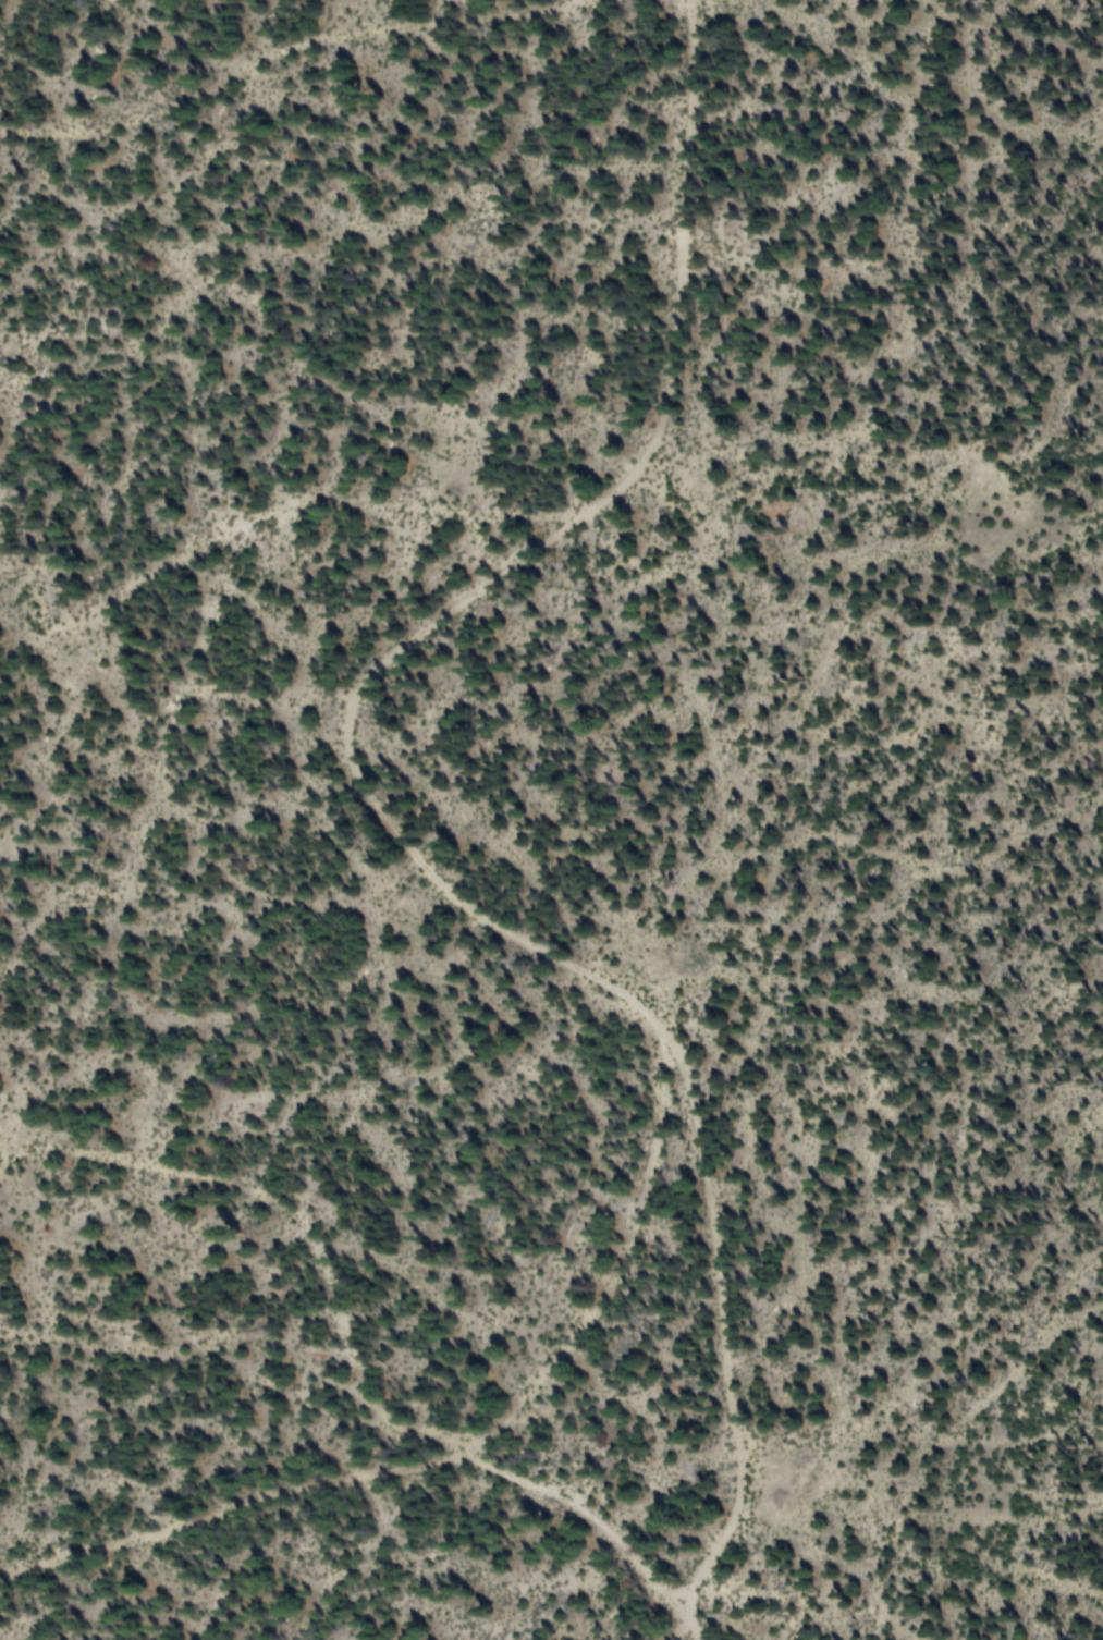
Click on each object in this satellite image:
road: (412, 825)

